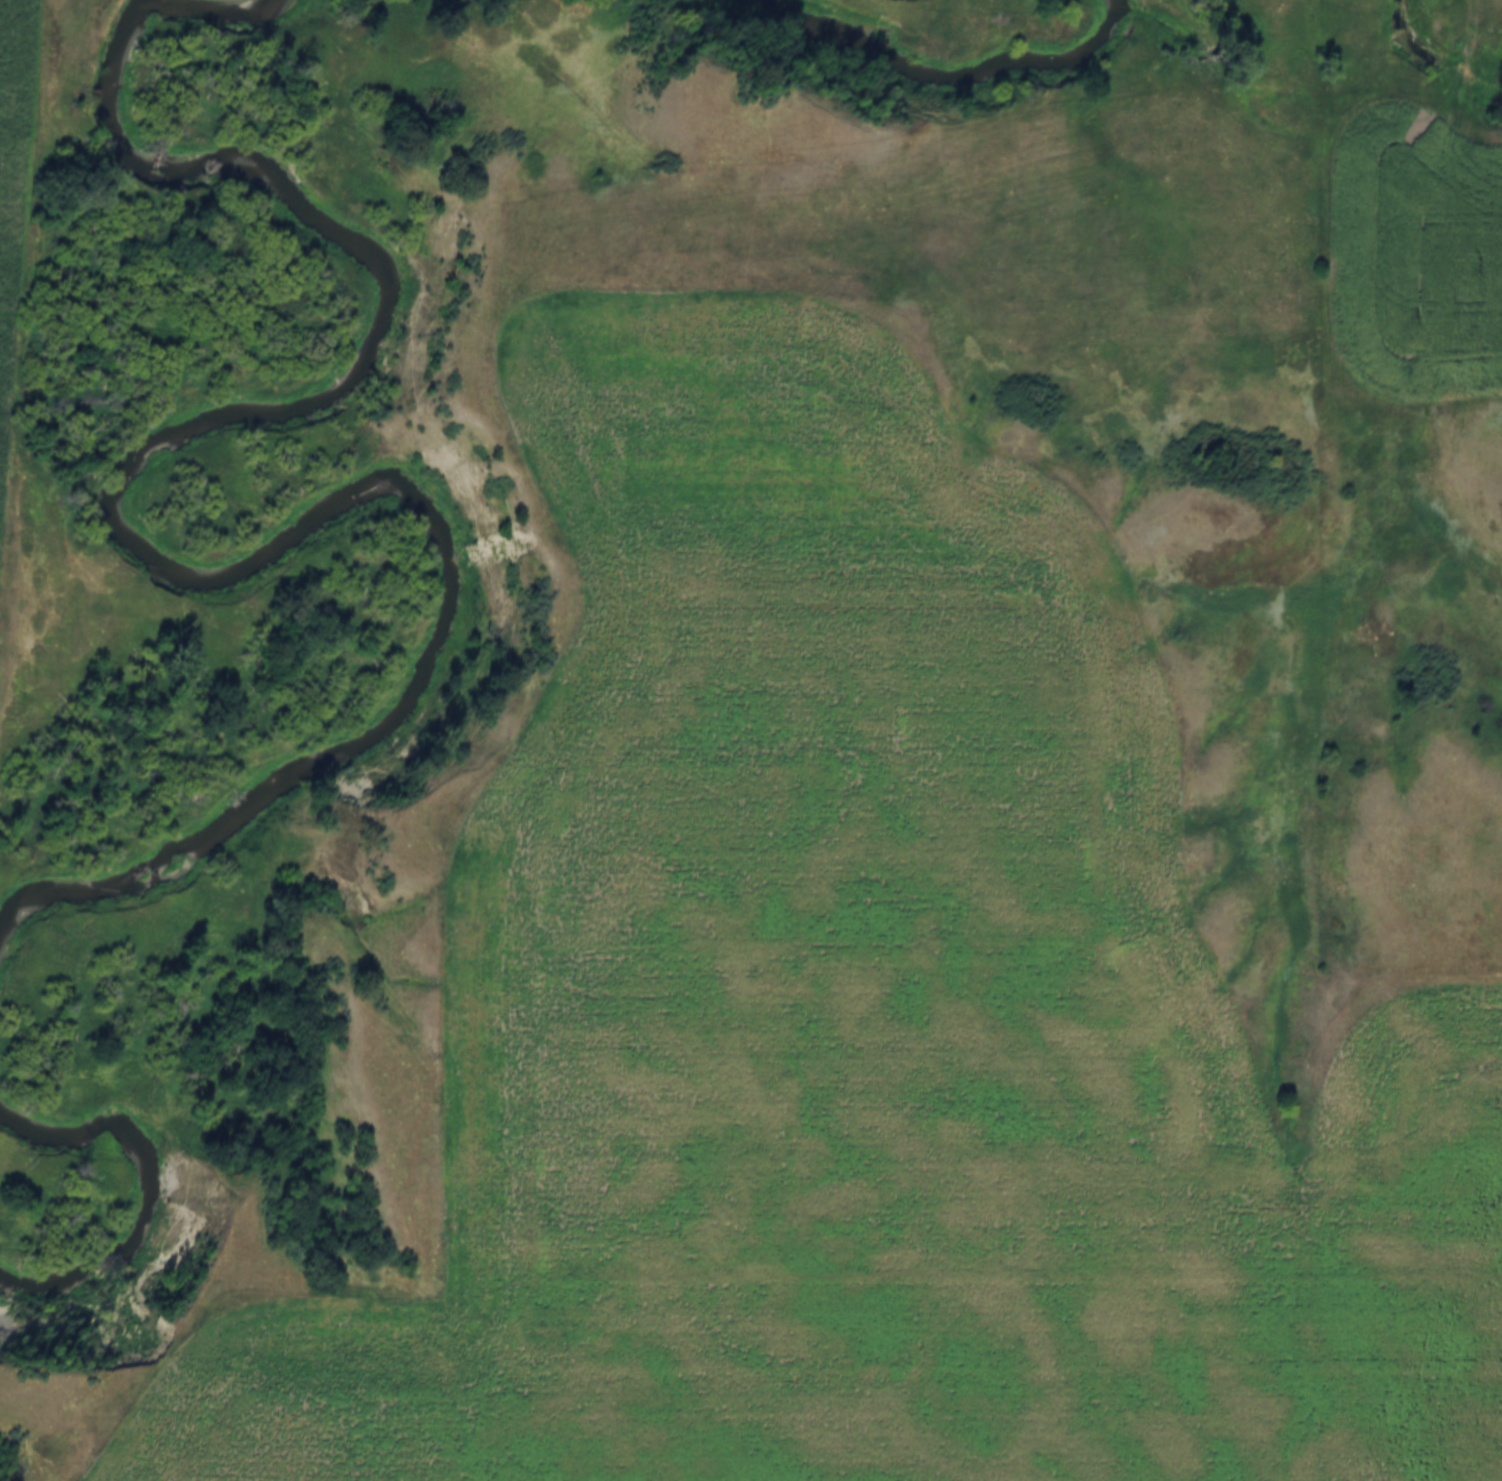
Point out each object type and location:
road: (1475, 90)

